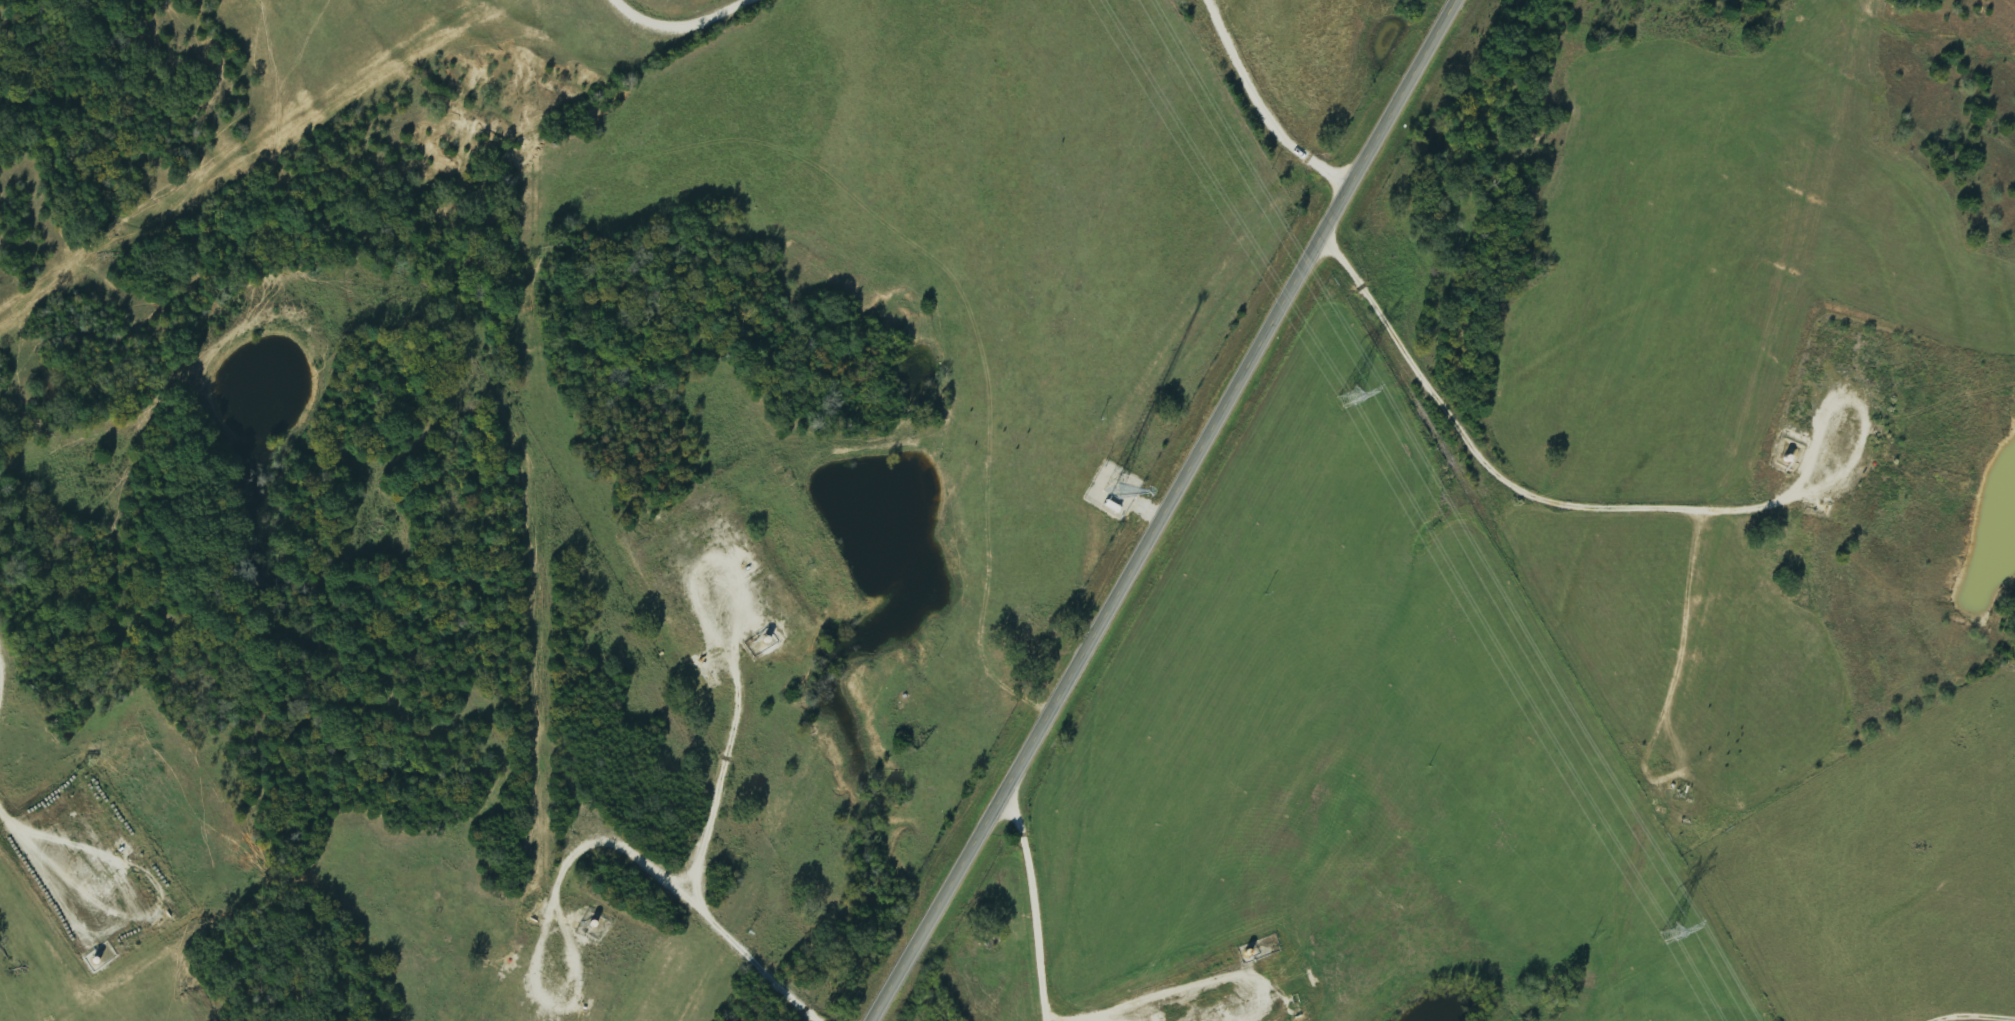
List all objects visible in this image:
power tower: (1342, 395)
road: (1164, 510)
power tower: (1670, 931)

